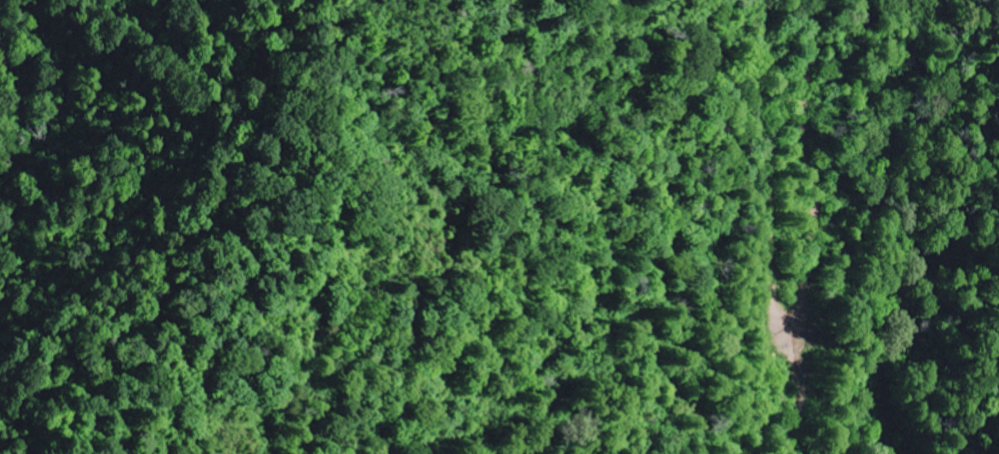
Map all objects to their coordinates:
road: (796, 229)
road: (996, 437)

